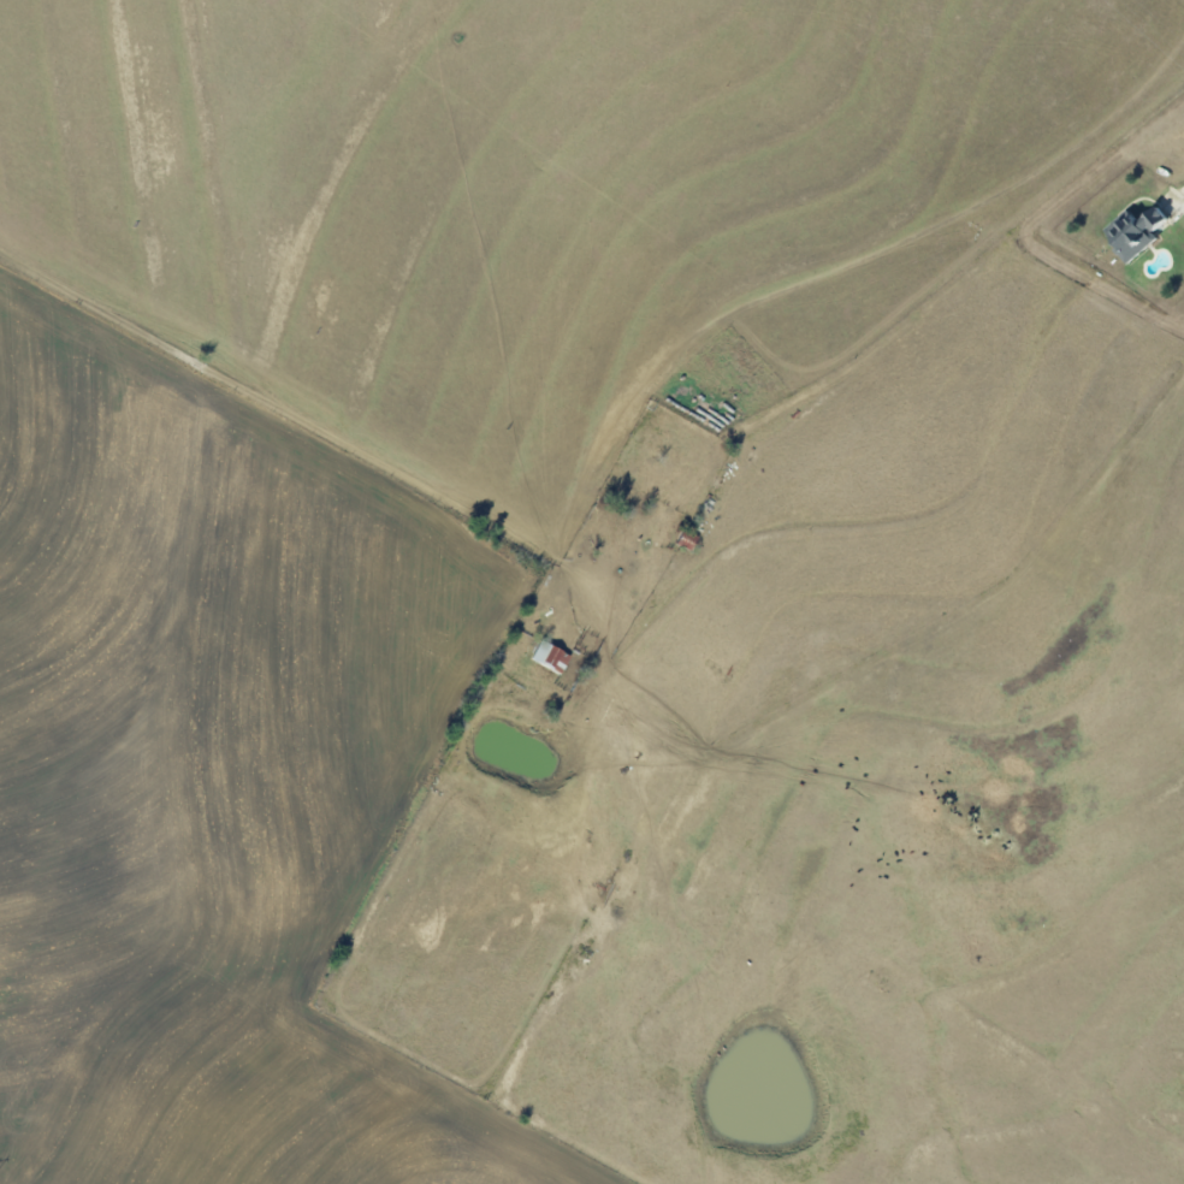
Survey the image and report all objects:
building: (1132, 231)
road: (960, 277)
building: (551, 657)

